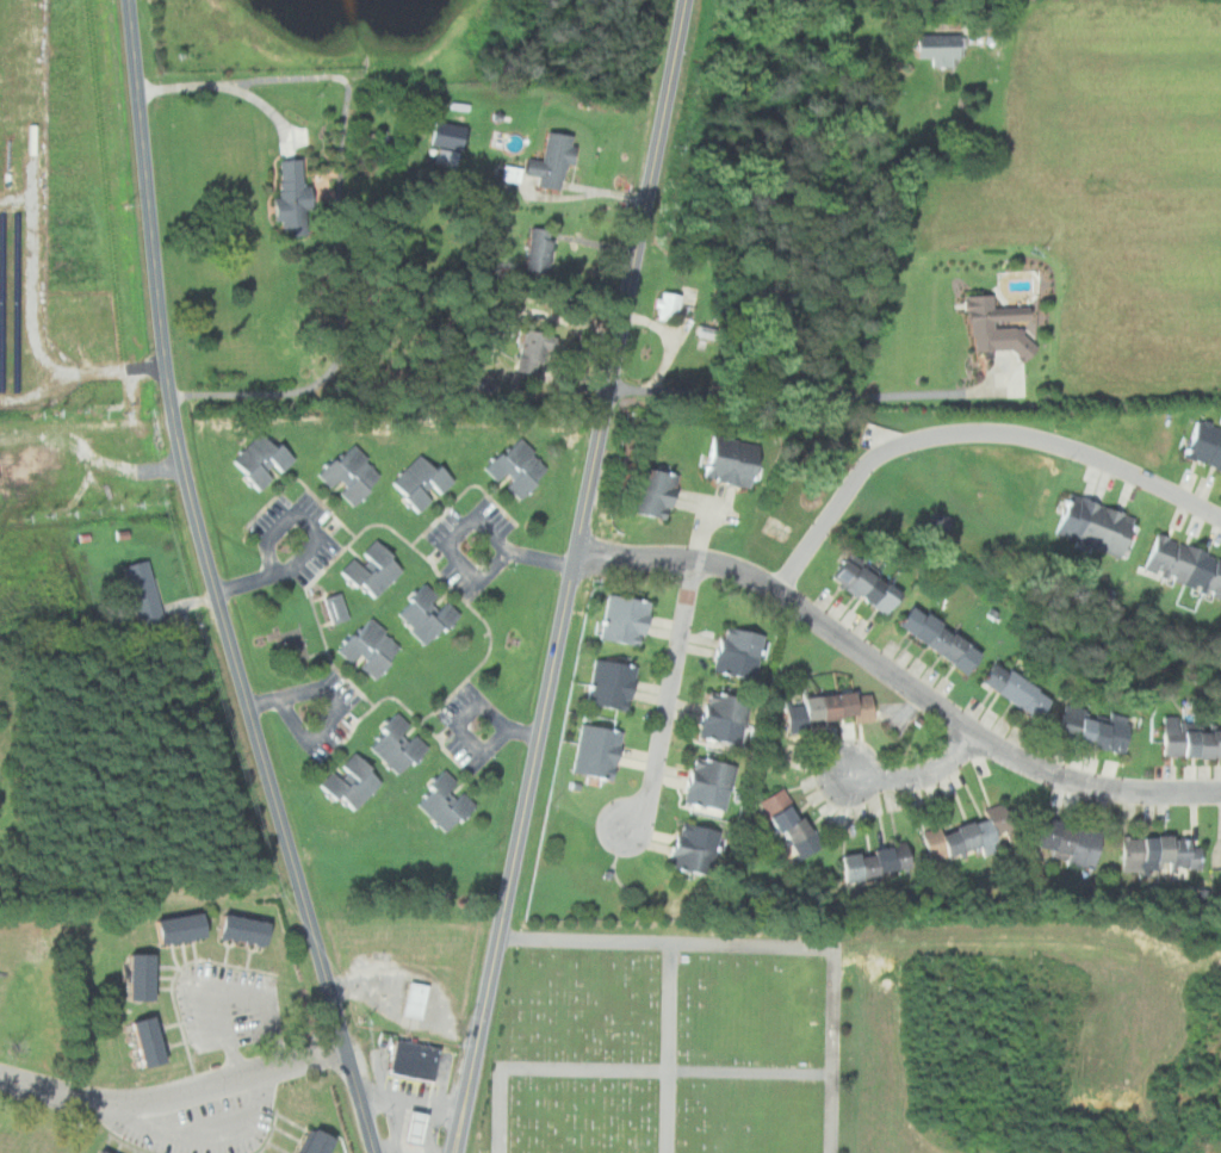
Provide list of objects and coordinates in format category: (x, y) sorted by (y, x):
building: (934, 48)
road: (227, 83)
building: (445, 156)
building: (546, 165)
building: (297, 196)
building: (543, 249)
building: (669, 305)
building: (990, 326)
building: (538, 348)
road: (87, 423)
road: (972, 432)
building: (1205, 444)
building: (265, 460)
building: (733, 461)
building: (522, 470)
building: (352, 475)
building: (424, 482)
building: (656, 492)
road: (472, 525)
building: (1099, 526)
road: (318, 539)
building: (1186, 564)
building: (377, 568)
road: (572, 576)
road: (212, 584)
building: (870, 587)
building: (144, 591)
building: (337, 607)
building: (421, 612)
building: (628, 618)
building: (943, 638)
building: (287, 646)
building: (373, 646)
building: (740, 651)
road: (898, 676)
building: (614, 682)
building: (1021, 692)
road: (669, 695)
road: (339, 703)
building: (828, 707)
building: (726, 714)
road: (467, 715)
building: (1097, 730)
building: (1190, 740)
building: (600, 748)
building: (401, 750)
road: (917, 775)
building: (712, 781)
building: (352, 782)
building: (445, 804)
building: (793, 822)
building: (967, 833)
building: (1070, 841)
building: (698, 847)
building: (1220, 849)
building: (1164, 850)
building: (879, 861)
building: (185, 926)
building: (248, 926)
road: (668, 943)
building: (144, 974)
road: (230, 992)
building: (416, 998)
building: (151, 1039)
road: (669, 1048)
road: (835, 1048)
park: (663, 1050)
building: (416, 1058)
road: (667, 1070)
road: (176, 1097)
road: (500, 1109)
building: (416, 1121)
building: (407, 1127)
road: (206, 1140)
building: (318, 1141)
building: (105, 1151)
building: (91, 1152)

